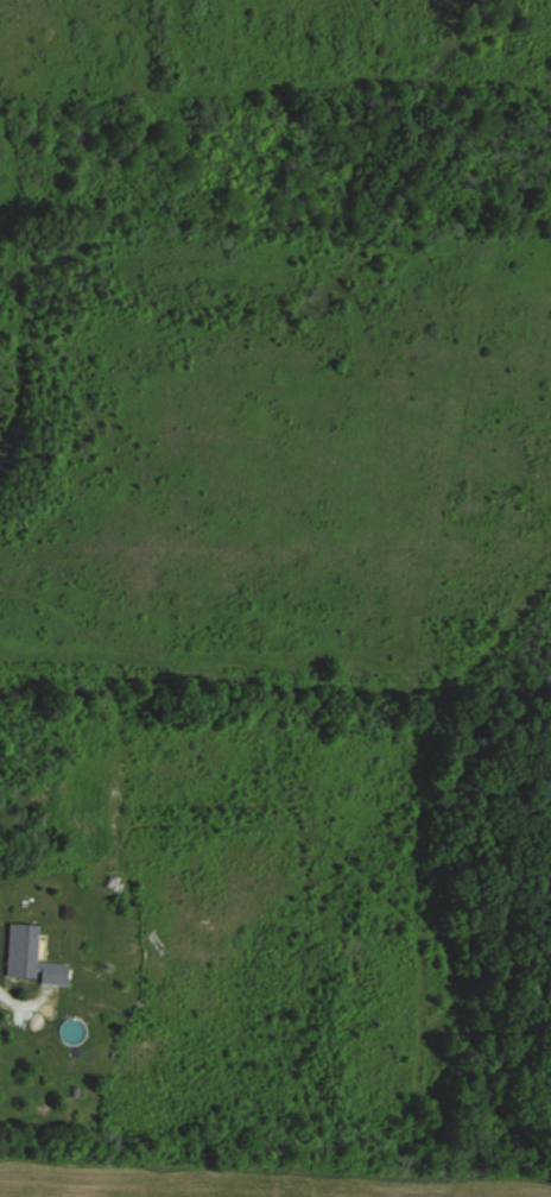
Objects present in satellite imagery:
building: (32, 957)
road: (27, 1009)

